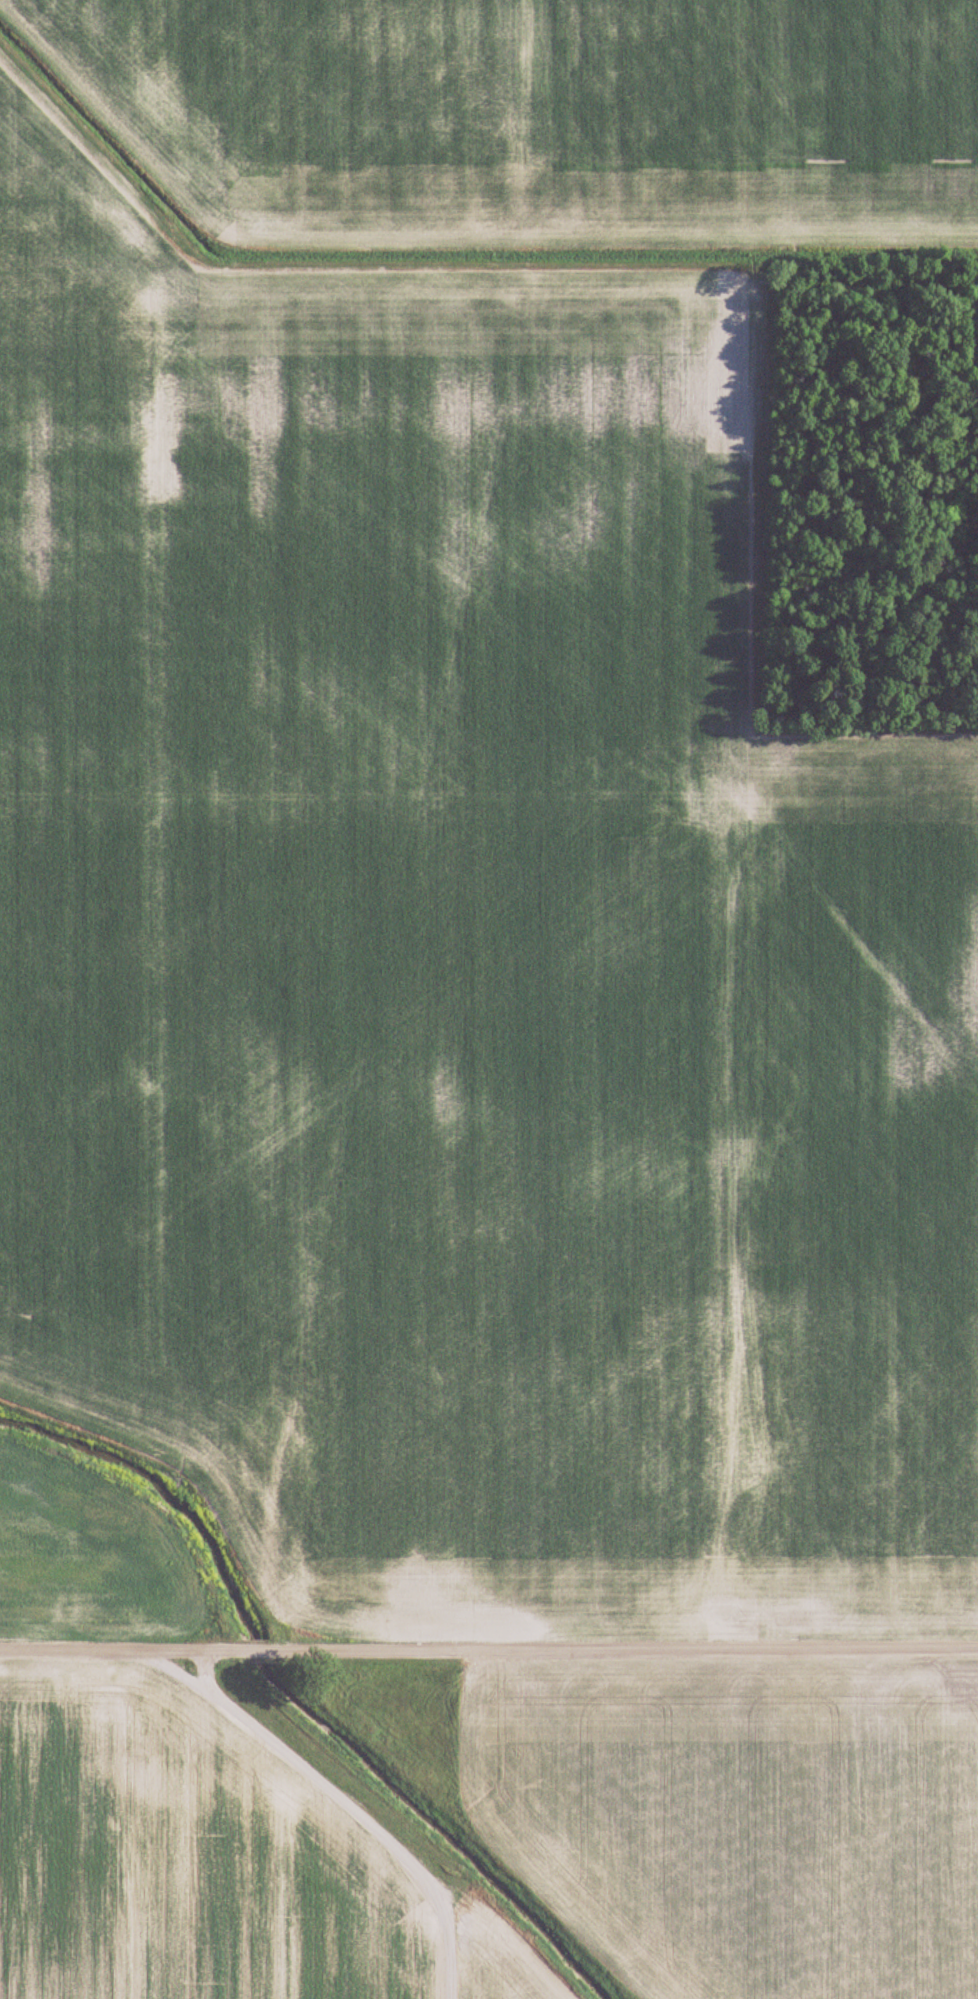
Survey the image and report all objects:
road: (258, 1649)
road: (115, 1650)
road: (631, 1651)
road: (345, 1812)

